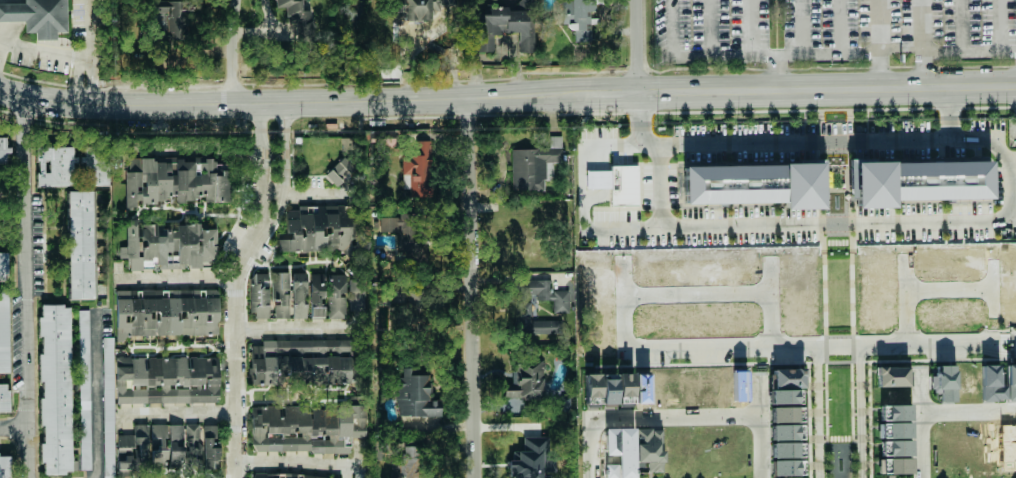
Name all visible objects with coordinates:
building: (288, 5)
building: (427, 10)
building: (37, 16)
building: (173, 16)
road: (7, 17)
building: (580, 17)
road: (999, 25)
building: (499, 26)
road: (962, 26)
road: (749, 28)
road: (801, 28)
road: (840, 28)
road: (709, 29)
road: (878, 40)
road: (921, 40)
road: (638, 43)
road: (3, 48)
road: (235, 48)
road: (900, 48)
road: (87, 51)
road: (969, 51)
road: (41, 52)
road: (746, 57)
road: (776, 70)
road: (77, 78)
road: (507, 91)
road: (950, 98)
road: (640, 102)
road: (802, 141)
building: (4, 145)
road: (261, 148)
road: (285, 148)
building: (534, 164)
building: (95, 165)
building: (417, 168)
building: (339, 171)
building: (924, 177)
building: (753, 179)
building: (173, 181)
building: (616, 183)
building: (1, 185)
road: (582, 196)
road: (119, 199)
road: (853, 217)
building: (318, 229)
building: (404, 232)
building: (79, 244)
building: (167, 246)
building: (3, 265)
road: (26, 285)
road: (472, 285)
road: (236, 288)
building: (355, 291)
building: (405, 292)
building: (546, 293)
road: (695, 293)
building: (298, 294)
road: (923, 294)
building: (316, 295)
building: (336, 295)
building: (165, 311)
road: (301, 329)
building: (3, 333)
road: (820, 346)
building: (300, 361)
building: (891, 375)
building: (787, 378)
building: (166, 379)
building: (526, 379)
building: (943, 382)
building: (609, 387)
building: (83, 388)
road: (94, 393)
building: (414, 396)
building: (784, 396)
building: (4, 398)
building: (107, 407)
road: (969, 411)
road: (817, 412)
road: (860, 412)
building: (784, 414)
road: (148, 415)
road: (679, 418)
road: (922, 423)
building: (306, 428)
road: (14, 430)
building: (784, 432)
building: (898, 439)
building: (183, 444)
building: (157, 445)
building: (210, 446)
building: (133, 447)
building: (632, 450)
building: (528, 458)
building: (785, 458)
building: (406, 463)
road: (301, 464)
building: (4, 466)
building: (298, 476)

